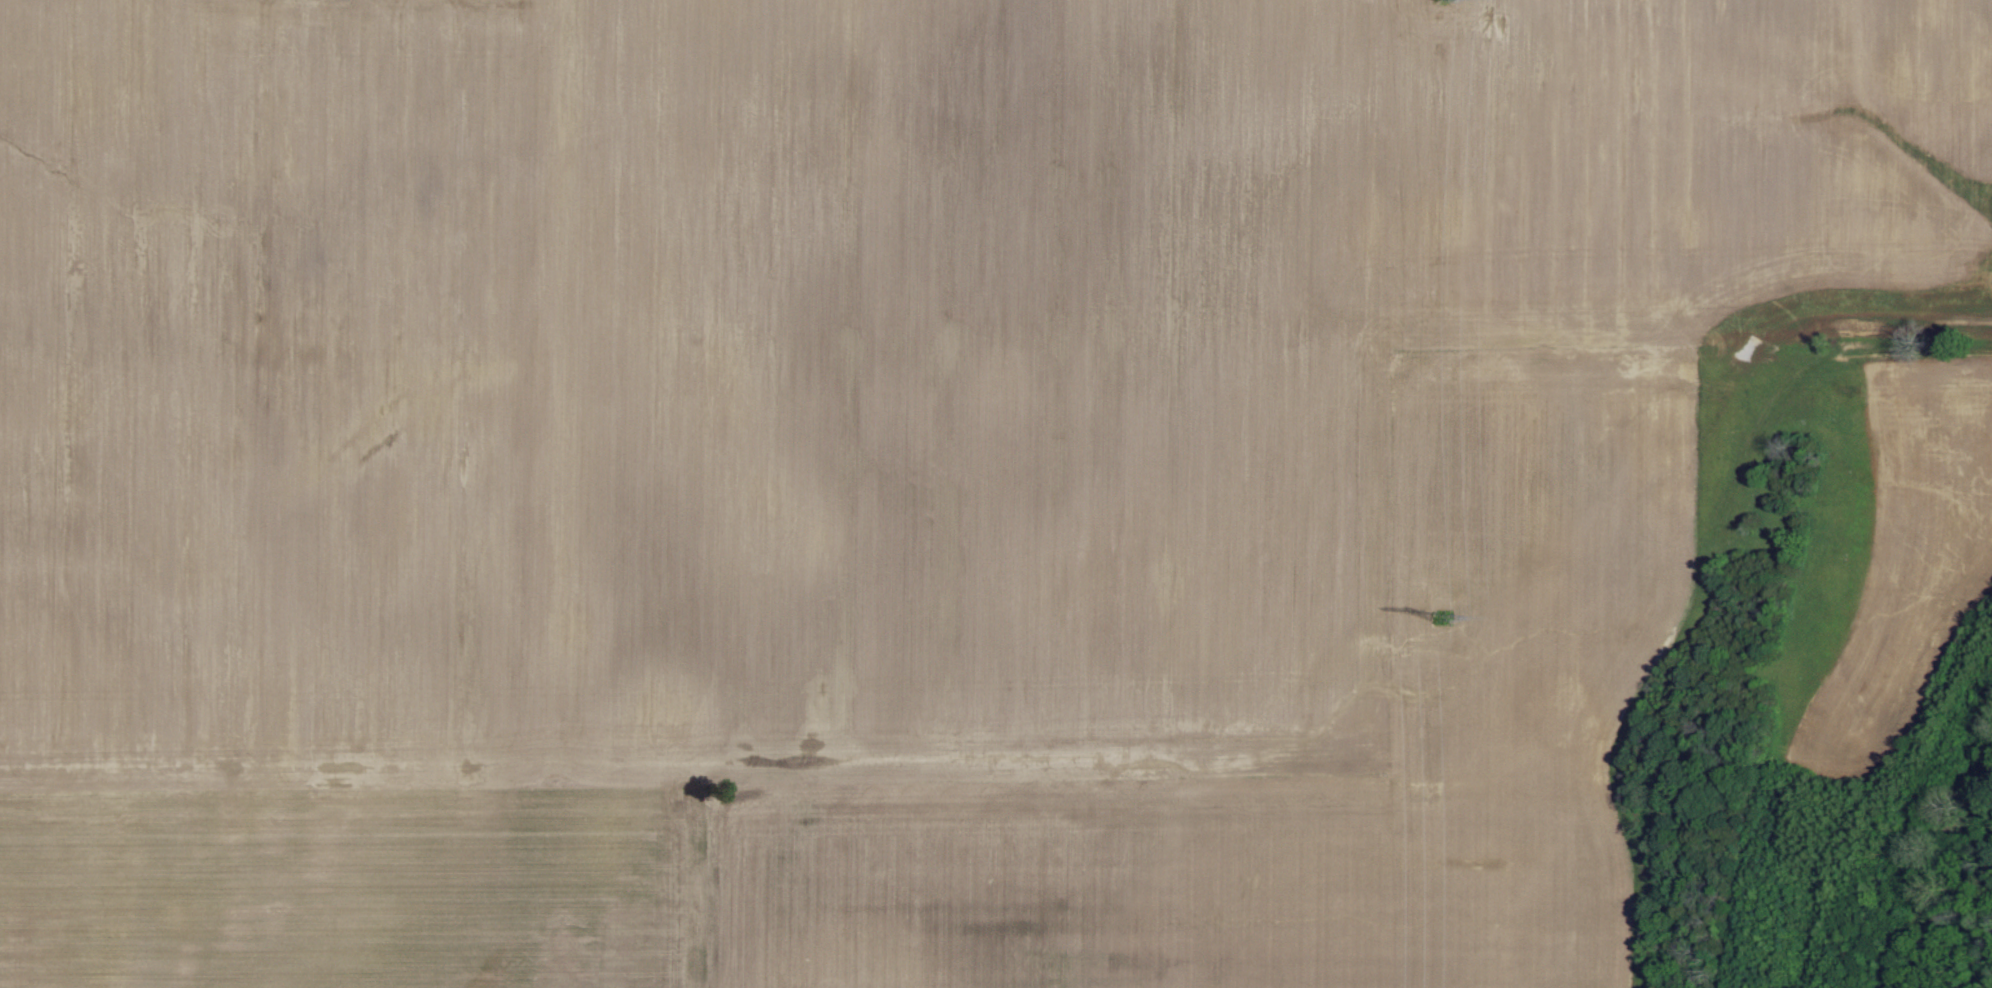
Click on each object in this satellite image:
power tower: (1439, 616)

